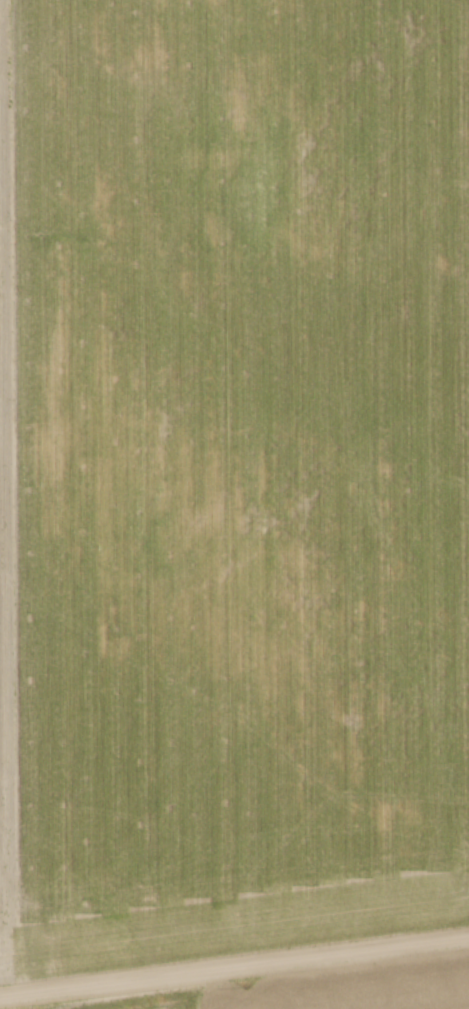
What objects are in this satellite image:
road: (234, 968)

